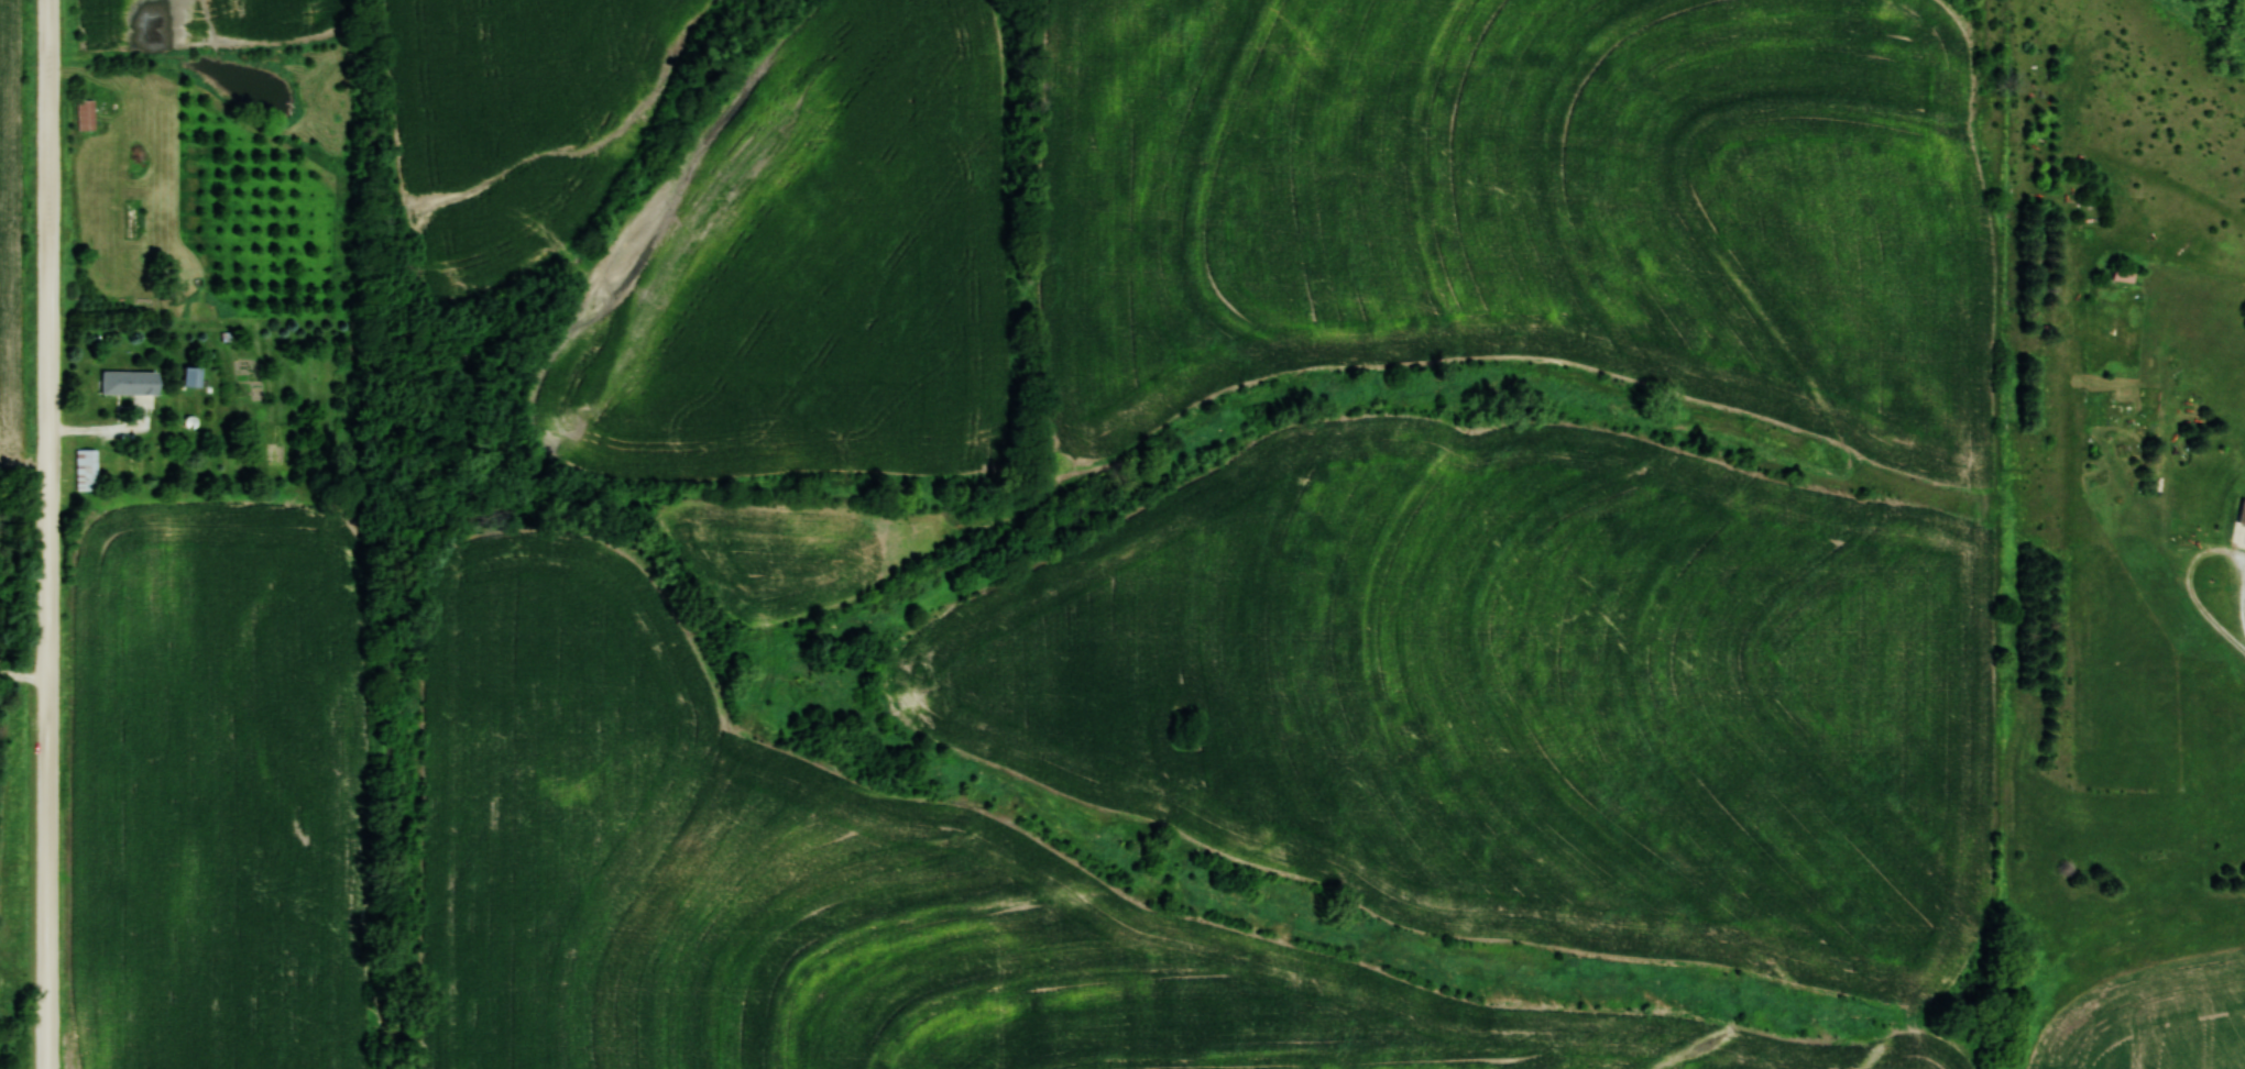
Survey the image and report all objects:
building: (87, 115)
building: (2125, 275)
building: (194, 377)
building: (131, 383)
building: (87, 470)
building: (2244, 528)
road: (48, 534)

